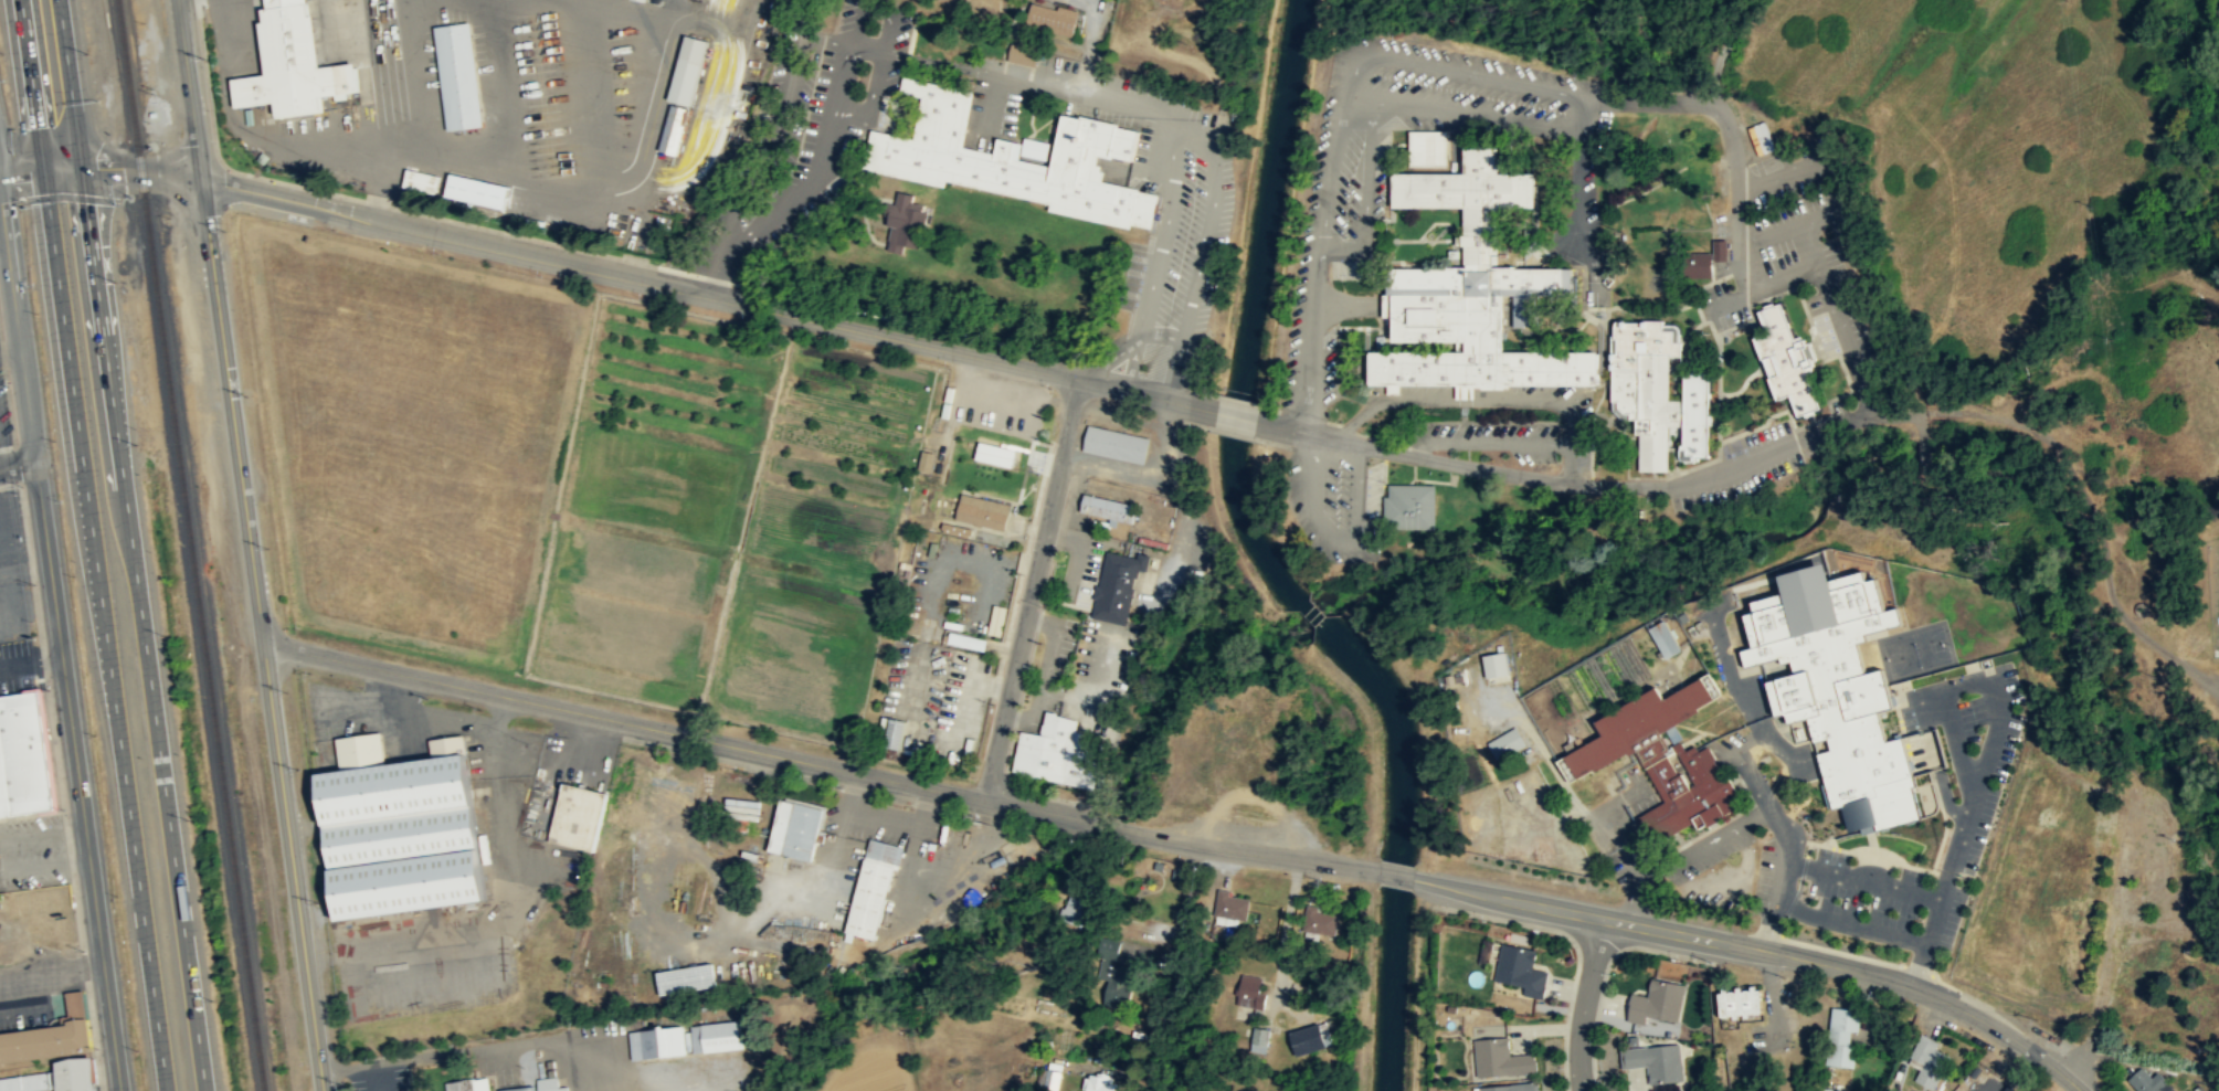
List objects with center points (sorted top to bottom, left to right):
building: (644, 0)
road: (871, 10)
building: (1055, 19)
road: (865, 46)
road: (1723, 47)
building: (1025, 54)
road: (937, 62)
building: (292, 65)
building: (689, 68)
building: (459, 75)
road: (70, 83)
road: (1061, 92)
road: (1565, 92)
road: (868, 97)
road: (1359, 98)
road: (782, 119)
road: (1723, 119)
road: (1187, 125)
building: (675, 128)
building: (1424, 146)
building: (1011, 158)
road: (822, 160)
traffic signals: (82, 168)
road: (40, 169)
road: (1333, 169)
building: (422, 179)
road: (1575, 188)
building: (477, 189)
road: (1366, 195)
building: (908, 222)
road: (51, 229)
road: (2, 231)
road: (1761, 235)
building: (1718, 248)
building: (1695, 264)
road: (580, 268)
road: (719, 268)
road: (1784, 277)
road: (1751, 286)
building: (1471, 290)
road: (102, 311)
road: (1152, 332)
road: (1848, 346)
building: (1787, 358)
road: (1122, 389)
building: (1658, 392)
road: (1489, 398)
road: (1191, 405)
building: (987, 406)
road: (1236, 416)
building: (1018, 420)
road: (1268, 424)
road: (1492, 441)
building: (1116, 444)
road: (1311, 451)
building: (997, 453)
building: (926, 460)
road: (18, 465)
crop: (578, 479)
road: (1551, 480)
building: (1406, 505)
building: (1107, 508)
building: (982, 511)
road: (251, 544)
railway: (191, 545)
building: (1117, 586)
road: (1033, 590)
building: (996, 619)
building: (1661, 638)
building: (966, 640)
road: (60, 645)
park: (1916, 650)
building: (1491, 664)
building: (1838, 688)
road: (623, 721)
building: (1726, 727)
building: (895, 732)
building: (1507, 744)
building: (1054, 751)
building: (23, 754)
building: (1663, 759)
road: (1984, 761)
road: (124, 774)
road: (161, 774)
road: (1751, 778)
building: (744, 808)
road: (1038, 811)
building: (575, 814)
road: (1612, 820)
road: (1113, 826)
building: (401, 827)
building: (795, 829)
road: (1706, 834)
road: (1256, 852)
road: (6, 855)
road: (1396, 875)
road: (1783, 881)
building: (873, 888)
building: (1079, 898)
building: (1232, 908)
building: (1321, 922)
road: (1772, 928)
road: (1686, 934)
building: (1520, 971)
road: (52, 975)
building: (1114, 976)
building: (685, 979)
building: (1250, 992)
building: (1740, 1002)
road: (1585, 1004)
building: (1658, 1004)
building: (716, 1037)
building: (1842, 1037)
building: (1309, 1039)
building: (46, 1040)
building: (1259, 1040)
building: (657, 1042)
road: (2021, 1044)
road: (469, 1050)
building: (1500, 1060)
building: (1927, 1061)
building: (1655, 1063)
building: (1049, 1074)
road: (373, 1077)
building: (53, 1079)
building: (1099, 1082)
building: (2148, 1082)
building: (549, 1084)
building: (461, 1085)
building: (519, 1088)
building: (1508, 1088)

